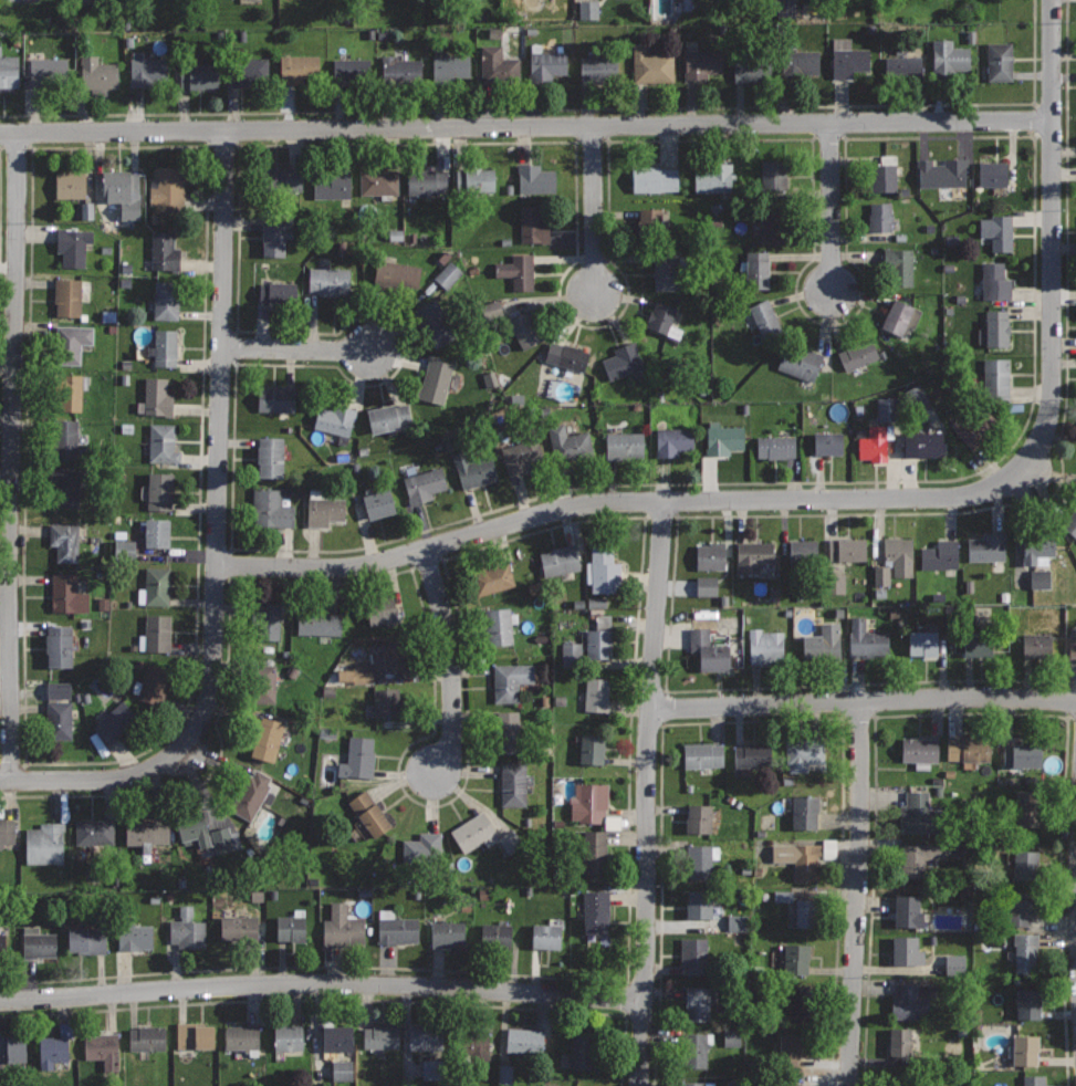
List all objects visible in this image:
building: (28, 0)
building: (783, 9)
building: (586, 10)
building: (949, 55)
building: (847, 58)
building: (1000, 61)
building: (702, 62)
building: (547, 63)
building: (800, 63)
building: (499, 64)
building: (651, 65)
building: (903, 66)
building: (299, 67)
building: (450, 67)
building: (147, 69)
building: (248, 69)
building: (400, 69)
building: (751, 69)
building: (9, 70)
building: (48, 70)
building: (351, 70)
building: (600, 70)
building: (97, 75)
building: (200, 75)
road: (567, 107)
road: (526, 126)
building: (942, 173)
building: (992, 174)
building: (773, 176)
building: (881, 177)
building: (535, 178)
building: (655, 178)
building: (714, 178)
building: (282, 179)
building: (474, 179)
building: (427, 180)
building: (332, 181)
building: (380, 181)
building: (71, 184)
building: (168, 188)
building: (123, 190)
road: (832, 207)
road: (594, 210)
building: (879, 216)
building: (534, 222)
building: (774, 223)
building: (650, 227)
building: (997, 231)
building: (274, 236)
road: (1052, 243)
building: (73, 246)
building: (164, 250)
building: (899, 265)
building: (755, 269)
building: (667, 270)
building: (519, 271)
building: (396, 273)
building: (445, 275)
building: (330, 281)
building: (996, 281)
road: (237, 292)
building: (279, 293)
building: (69, 296)
building: (167, 299)
building: (488, 310)
building: (900, 316)
building: (766, 317)
building: (664, 320)
building: (435, 322)
building: (525, 327)
building: (997, 327)
building: (72, 342)
building: (166, 347)
road: (296, 349)
building: (858, 353)
building: (570, 356)
building: (623, 361)
building: (801, 361)
building: (996, 376)
building: (437, 379)
building: (72, 391)
building: (158, 396)
building: (913, 396)
building: (276, 397)
building: (884, 409)
building: (389, 416)
building: (335, 420)
building: (976, 426)
building: (724, 438)
building: (66, 439)
building: (675, 440)
building: (876, 441)
building: (163, 442)
building: (570, 442)
building: (828, 442)
building: (930, 443)
building: (625, 446)
building: (776, 446)
building: (520, 455)
road: (12, 456)
building: (270, 457)
building: (478, 472)
building: (424, 484)
building: (67, 487)
building: (160, 490)
road: (612, 500)
building: (378, 503)
building: (271, 508)
building: (325, 510)
road: (813, 515)
building: (1072, 521)
building: (157, 533)
road: (524, 534)
road: (217, 536)
building: (65, 540)
building: (988, 546)
building: (1040, 547)
building: (847, 549)
building: (804, 550)
building: (122, 551)
building: (711, 555)
building: (753, 555)
building: (899, 555)
building: (940, 555)
building: (560, 560)
building: (605, 571)
building: (879, 576)
building: (491, 578)
building: (1037, 578)
building: (833, 584)
building: (157, 585)
building: (703, 586)
building: (67, 594)
building: (380, 609)
building: (268, 620)
building: (317, 622)
building: (499, 626)
building: (158, 631)
building: (599, 637)
building: (867, 639)
building: (823, 641)
building: (922, 643)
building: (60, 645)
building: (978, 645)
building: (1036, 645)
building: (766, 646)
building: (1073, 646)
building: (709, 649)
building: (570, 652)
building: (391, 655)
road: (450, 658)
building: (359, 675)
building: (342, 677)
building: (511, 679)
building: (262, 682)
building: (155, 683)
building: (55, 691)
building: (597, 693)
road: (863, 700)
building: (387, 701)
road: (970, 711)
building: (60, 720)
building: (115, 721)
road: (754, 721)
road: (167, 731)
building: (508, 731)
building: (268, 738)
building: (592, 748)
building: (969, 748)
building: (920, 750)
building: (805, 752)
building: (703, 754)
building: (752, 755)
building: (1023, 755)
building: (358, 756)
building: (514, 783)
road: (648, 792)
building: (254, 794)
building: (589, 802)
building: (1027, 807)
building: (806, 812)
building: (921, 812)
building: (369, 813)
building: (699, 817)
building: (194, 828)
building: (7, 831)
building: (95, 832)
building: (474, 832)
building: (147, 833)
building: (222, 840)
building: (506, 842)
building: (46, 843)
building: (424, 848)
building: (594, 850)
building: (804, 856)
building: (919, 857)
building: (701, 859)
building: (1026, 865)
road: (857, 894)
building: (700, 902)
building: (1023, 906)
building: (908, 909)
building: (596, 910)
building: (806, 912)
building: (238, 926)
building: (342, 926)
building: (291, 927)
building: (397, 927)
building: (447, 932)
building: (188, 933)
building: (497, 936)
building: (545, 936)
building: (136, 937)
building: (87, 940)
building: (2, 943)
building: (39, 943)
building: (907, 949)
building: (1024, 952)
building: (694, 953)
building: (797, 959)
building: (952, 963)
road: (321, 983)
building: (911, 1000)
road: (346, 1001)
building: (698, 1002)
building: (1027, 1003)
building: (797, 1005)
building: (382, 1035)
building: (194, 1036)
building: (337, 1036)
building: (147, 1037)
building: (243, 1037)
building: (289, 1037)
building: (427, 1037)
building: (525, 1040)
building: (900, 1041)
building: (474, 1043)
building: (792, 1045)
building: (12, 1048)
building: (104, 1048)
building: (696, 1048)
building: (53, 1050)
building: (1026, 1050)
building: (584, 1051)
building: (338, 1071)
building: (1033, 1079)
building: (908, 1080)
building: (693, 1084)
building: (564, 1085)
building: (574, 1085)

